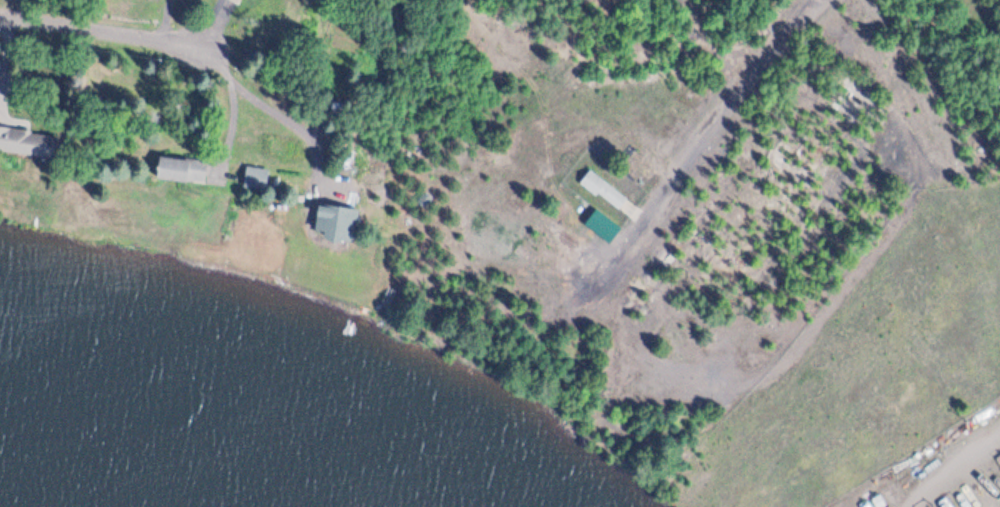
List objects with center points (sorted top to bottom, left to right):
building: (239, 0)
building: (229, 1)
road: (167, 16)
road: (108, 24)
road: (220, 26)
road: (234, 103)
road: (294, 120)
building: (27, 144)
road: (709, 150)
building: (179, 169)
building: (254, 175)
building: (595, 187)
building: (608, 187)
building: (337, 219)
building: (597, 224)

